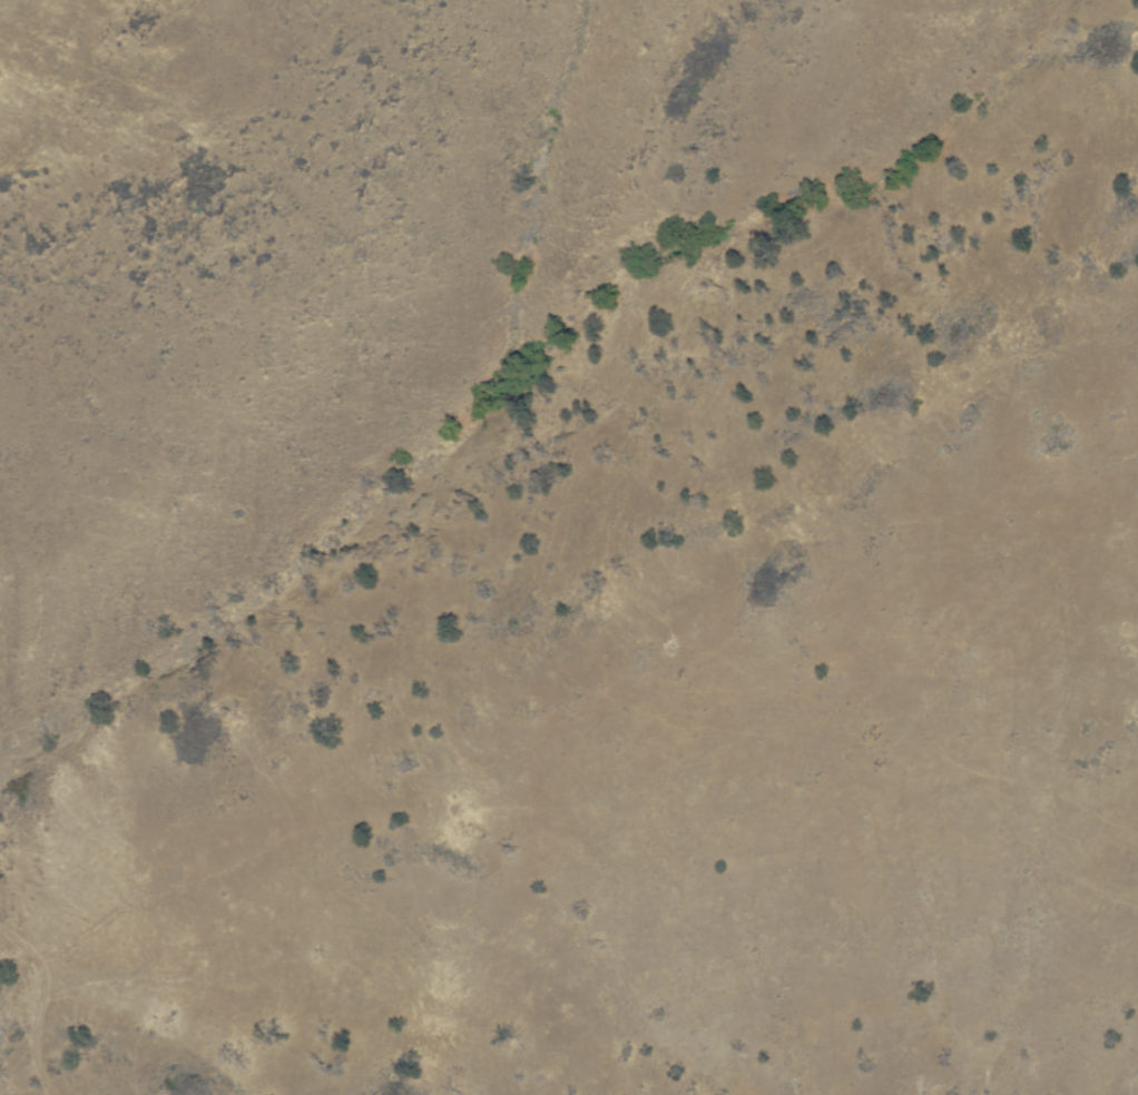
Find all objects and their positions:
road: (49, 999)

